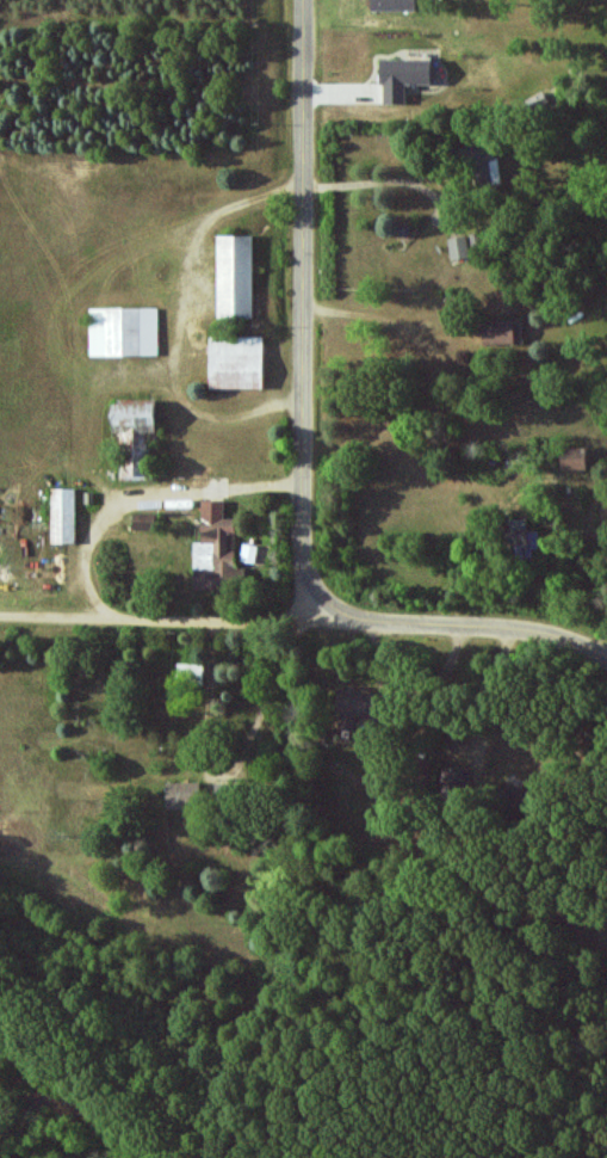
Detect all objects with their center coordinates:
building: (395, 5)
building: (404, 76)
building: (483, 164)
road: (391, 184)
building: (459, 246)
building: (236, 276)
road: (303, 309)
road: (169, 313)
building: (124, 331)
building: (237, 362)
building: (136, 435)
building: (577, 458)
road: (134, 486)
building: (64, 516)
building: (527, 542)
building: (216, 548)
building: (249, 553)
road: (153, 617)
road: (459, 626)
road: (264, 695)
road: (410, 697)
road: (495, 697)
building: (357, 701)
building: (454, 777)
building: (184, 795)

